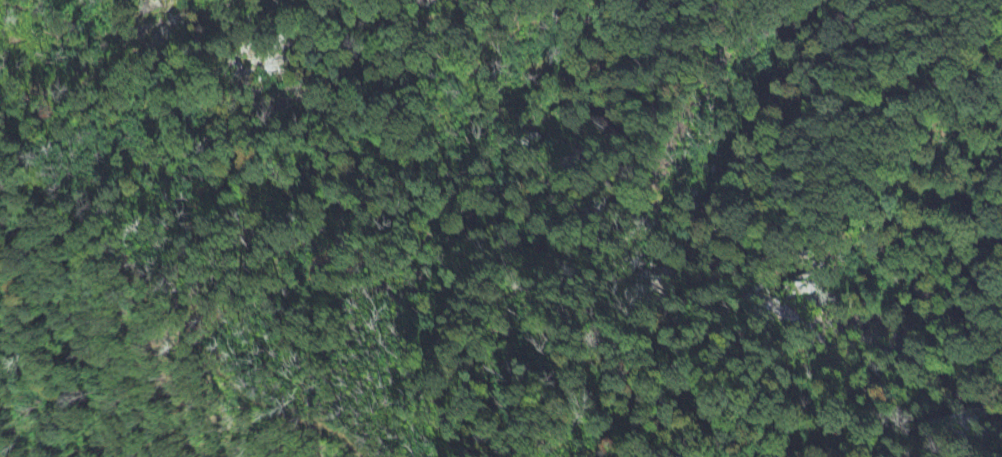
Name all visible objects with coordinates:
park: (222, 176)
park: (833, 310)
road: (166, 313)

